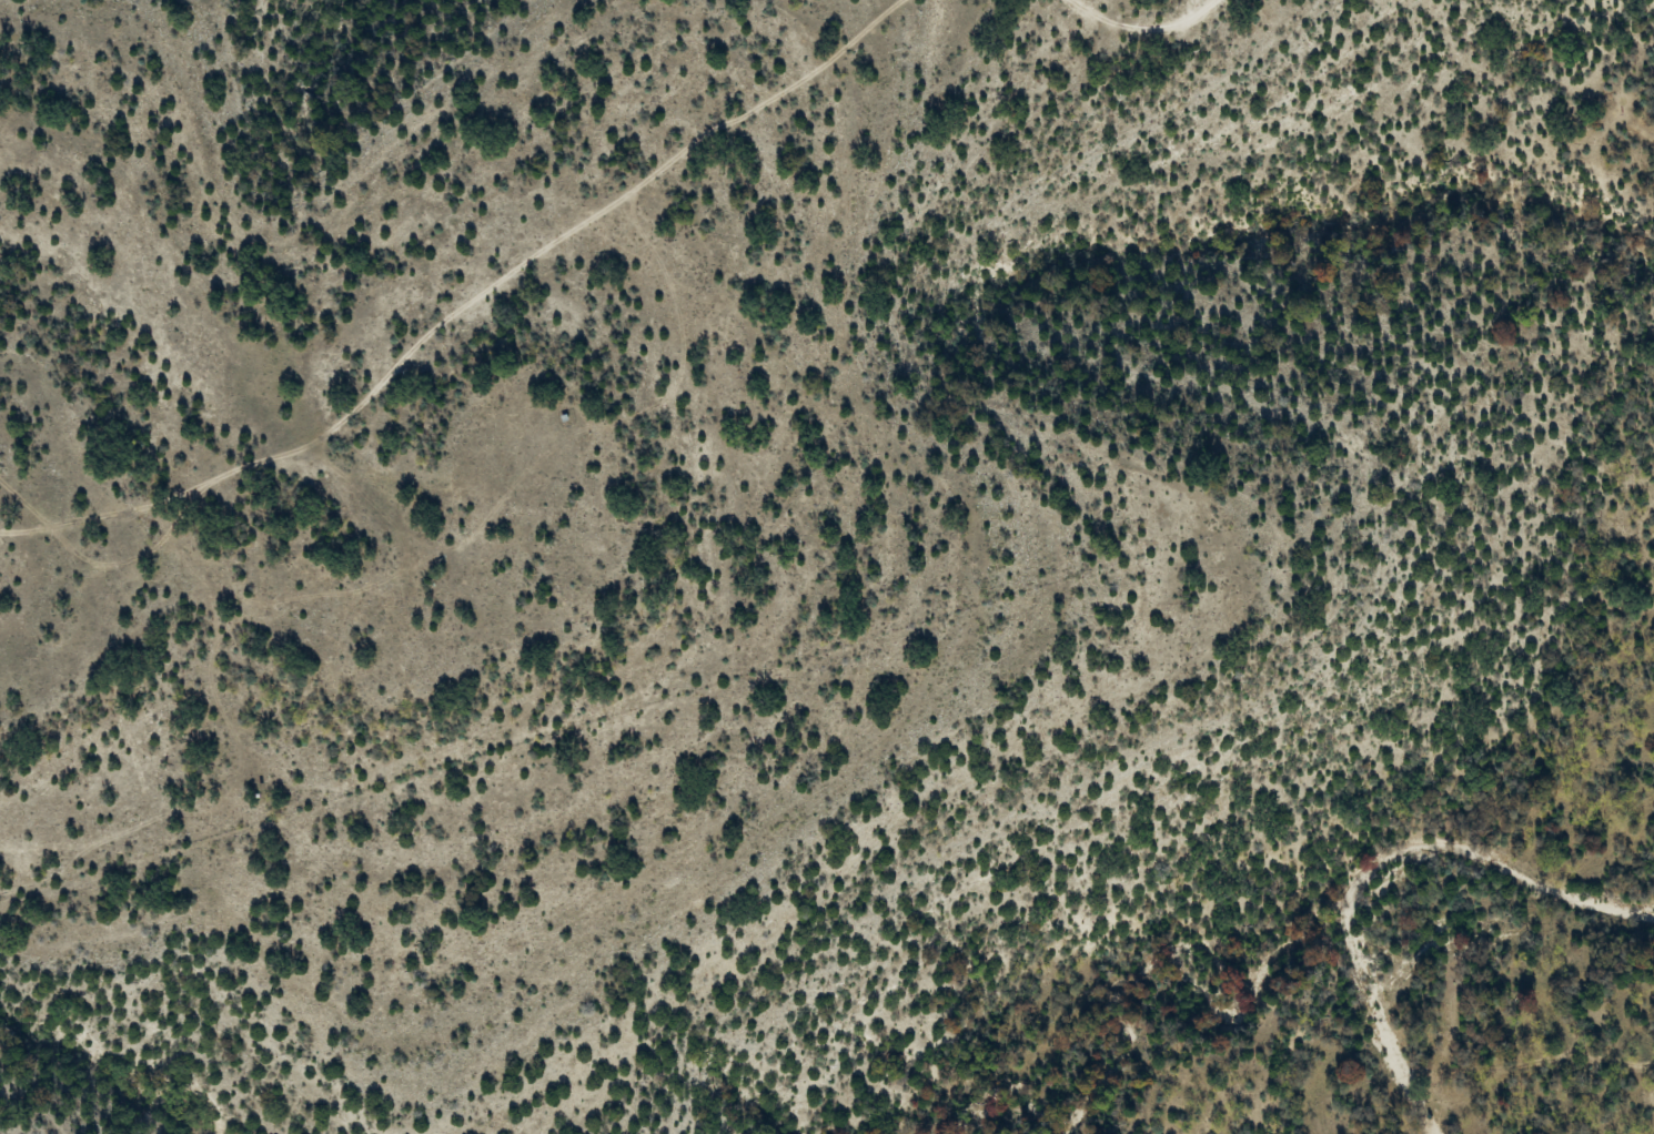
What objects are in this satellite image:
road: (1146, 57)
road: (458, 330)

